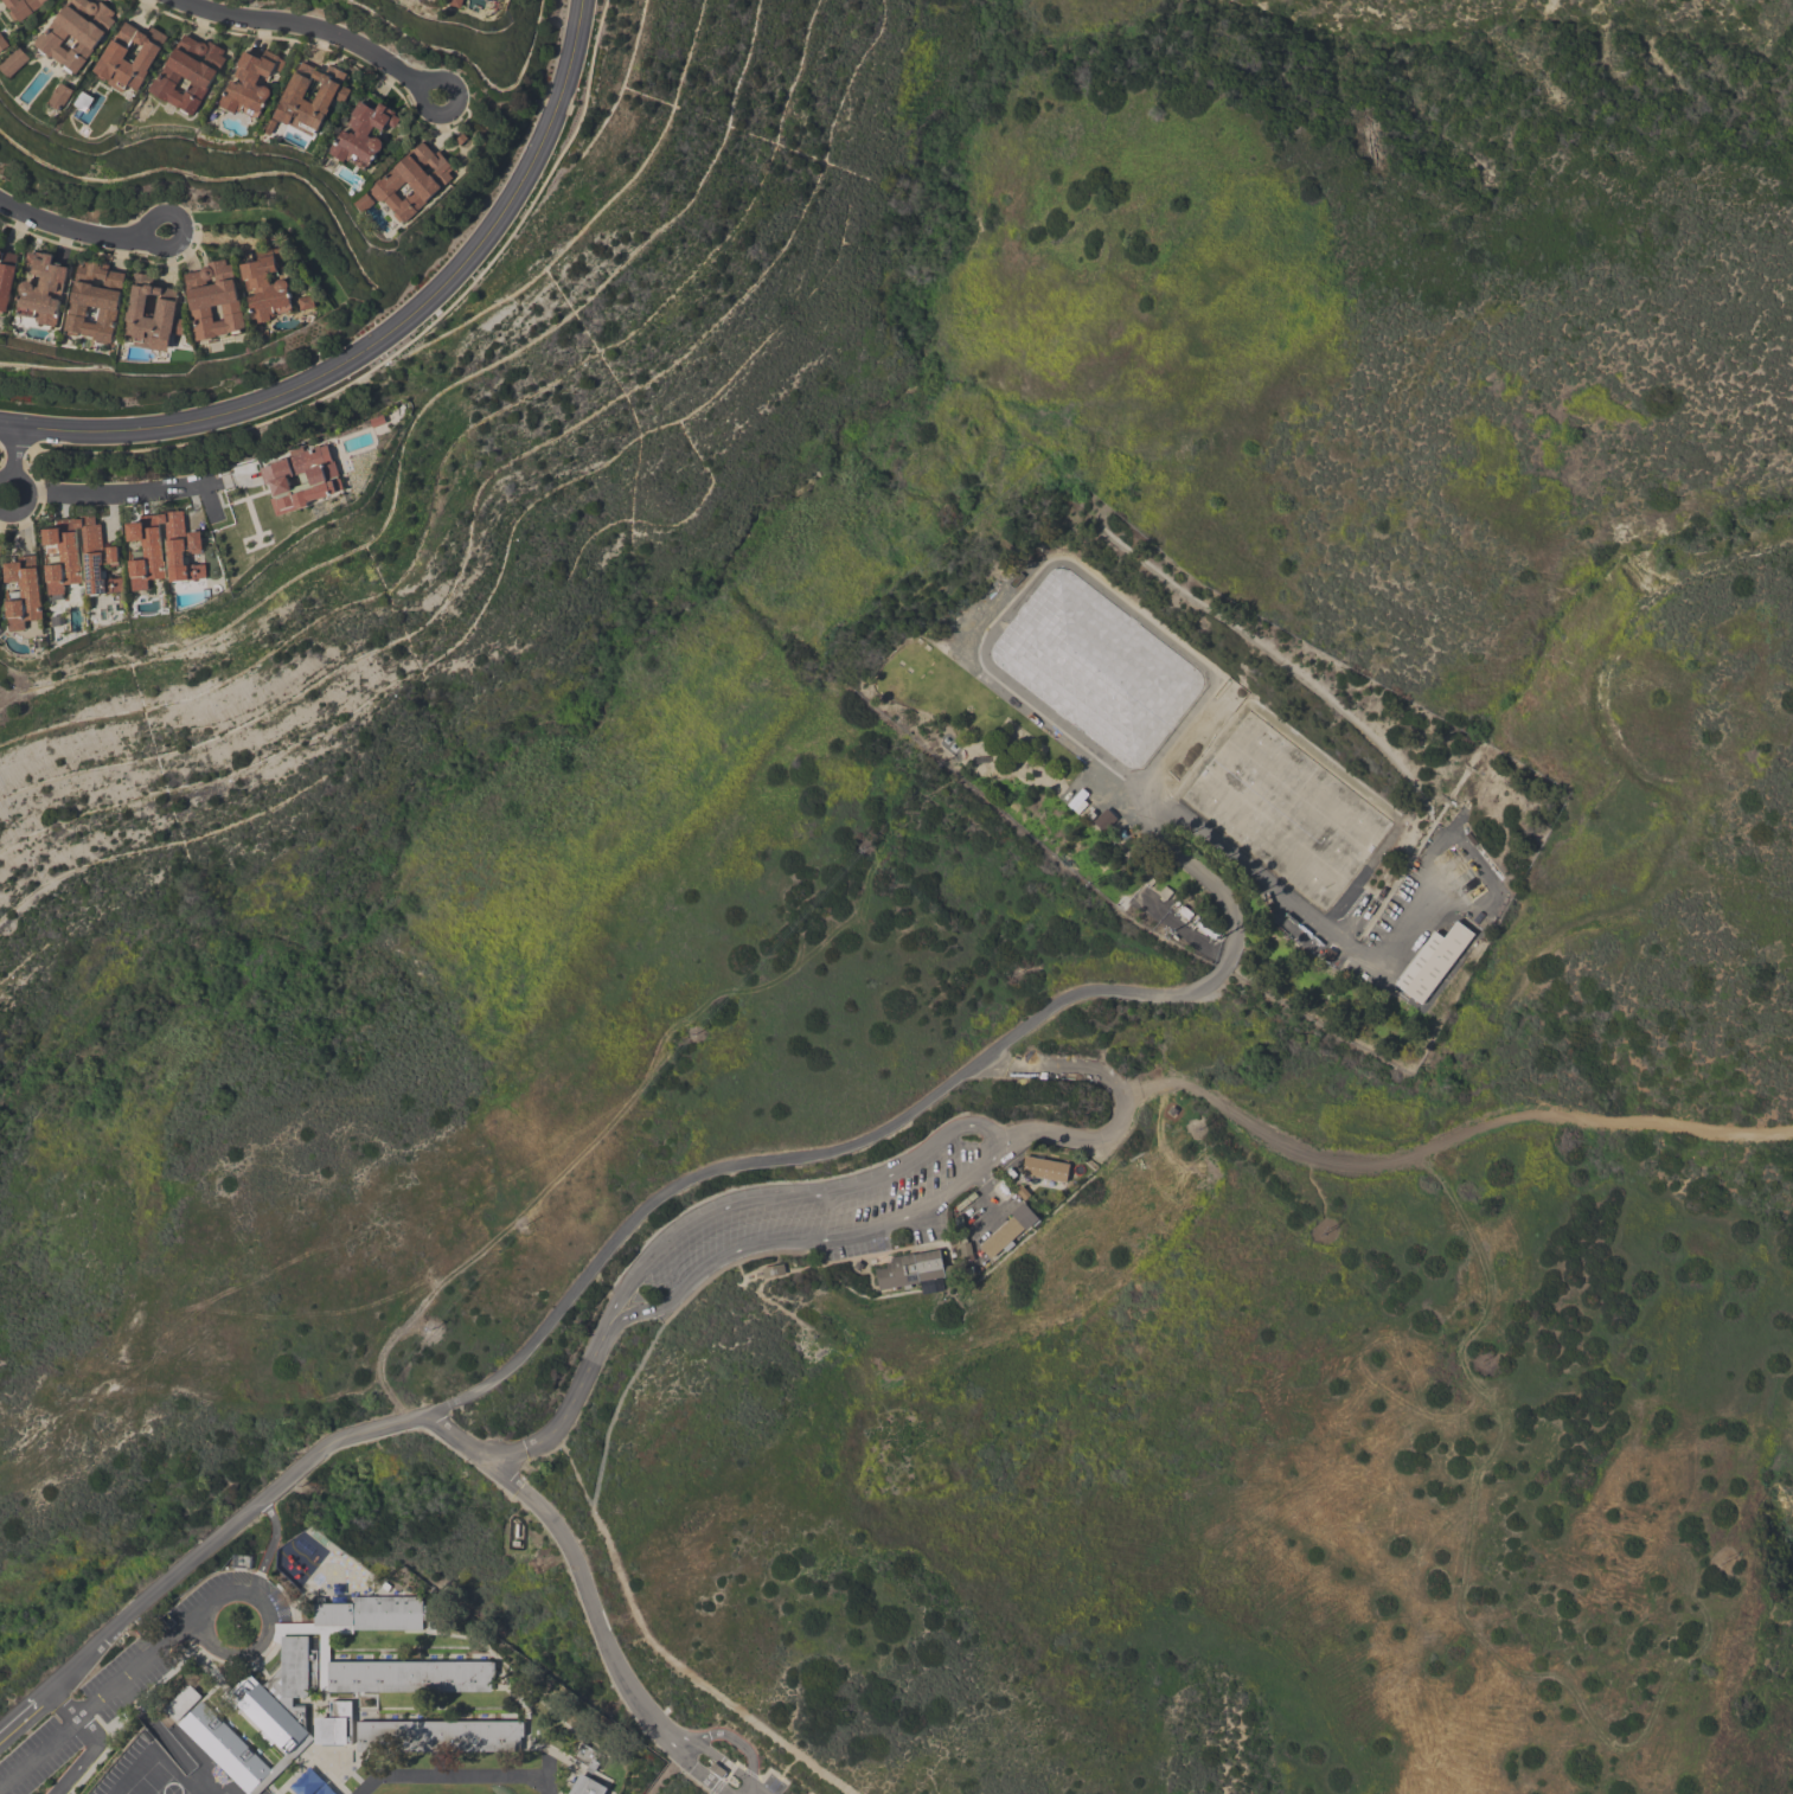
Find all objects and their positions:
building: (455, 2)
building: (23, 7)
building: (76, 32)
road: (306, 32)
building: (2, 43)
building: (115, 52)
building: (13, 62)
building: (188, 72)
building: (250, 82)
building: (333, 92)
building: (60, 96)
road: (454, 104)
building: (363, 134)
building: (414, 181)
road: (68, 226)
road: (181, 226)
building: (6, 278)
building: (265, 286)
building: (43, 289)
building: (213, 300)
building: (95, 301)
building: (306, 302)
building: (164, 314)
road: (382, 337)
road: (14, 450)
building: (301, 478)
road: (136, 489)
road: (28, 492)
building: (0, 547)
building: (152, 550)
building: (62, 557)
building: (97, 558)
road: (1040, 564)
building: (24, 591)
building: (1096, 666)
road: (7, 684)
building: (1104, 819)
building: (1435, 962)
road: (1038, 1017)
road: (1123, 1093)
road: (988, 1130)
road: (1452, 1141)
building: (1045, 1168)
building: (1046, 1178)
road: (793, 1197)
building: (967, 1200)
parking lot: (815, 1212)
building: (961, 1228)
building: (1010, 1229)
road: (832, 1238)
building: (966, 1249)
building: (859, 1266)
building: (774, 1270)
building: (910, 1275)
road: (705, 1283)
road: (607, 1326)
road: (564, 1412)
road: (219, 1538)
road: (271, 1549)
road: (570, 1549)
road: (275, 1627)
road: (659, 1646)
building: (296, 1691)
building: (182, 1702)
road: (94, 1704)
road: (64, 1705)
road: (19, 1723)
road: (158, 1728)
building: (438, 1735)
road: (664, 1735)
road: (736, 1739)
road: (711, 1753)
road: (87, 1757)
road: (703, 1769)
road: (201, 1780)
building: (587, 1787)

